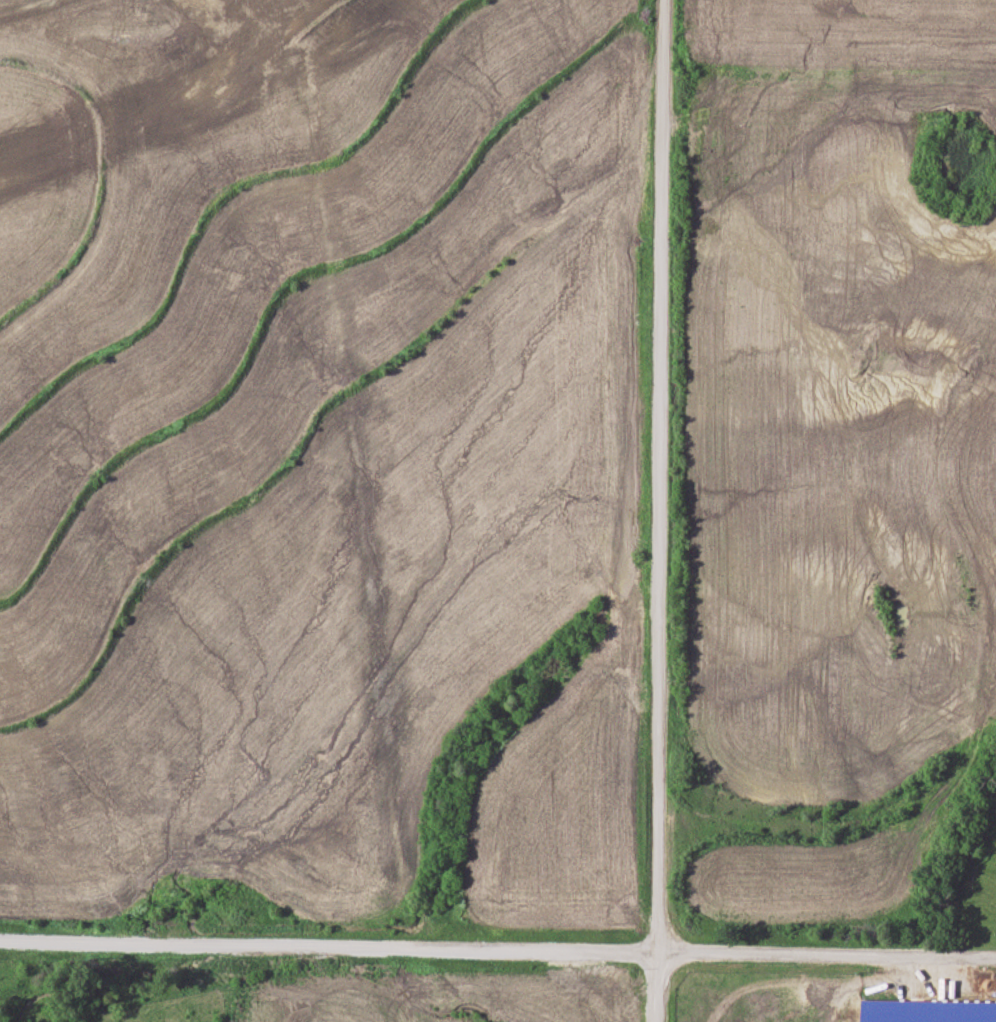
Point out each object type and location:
road: (659, 511)
road: (497, 949)

